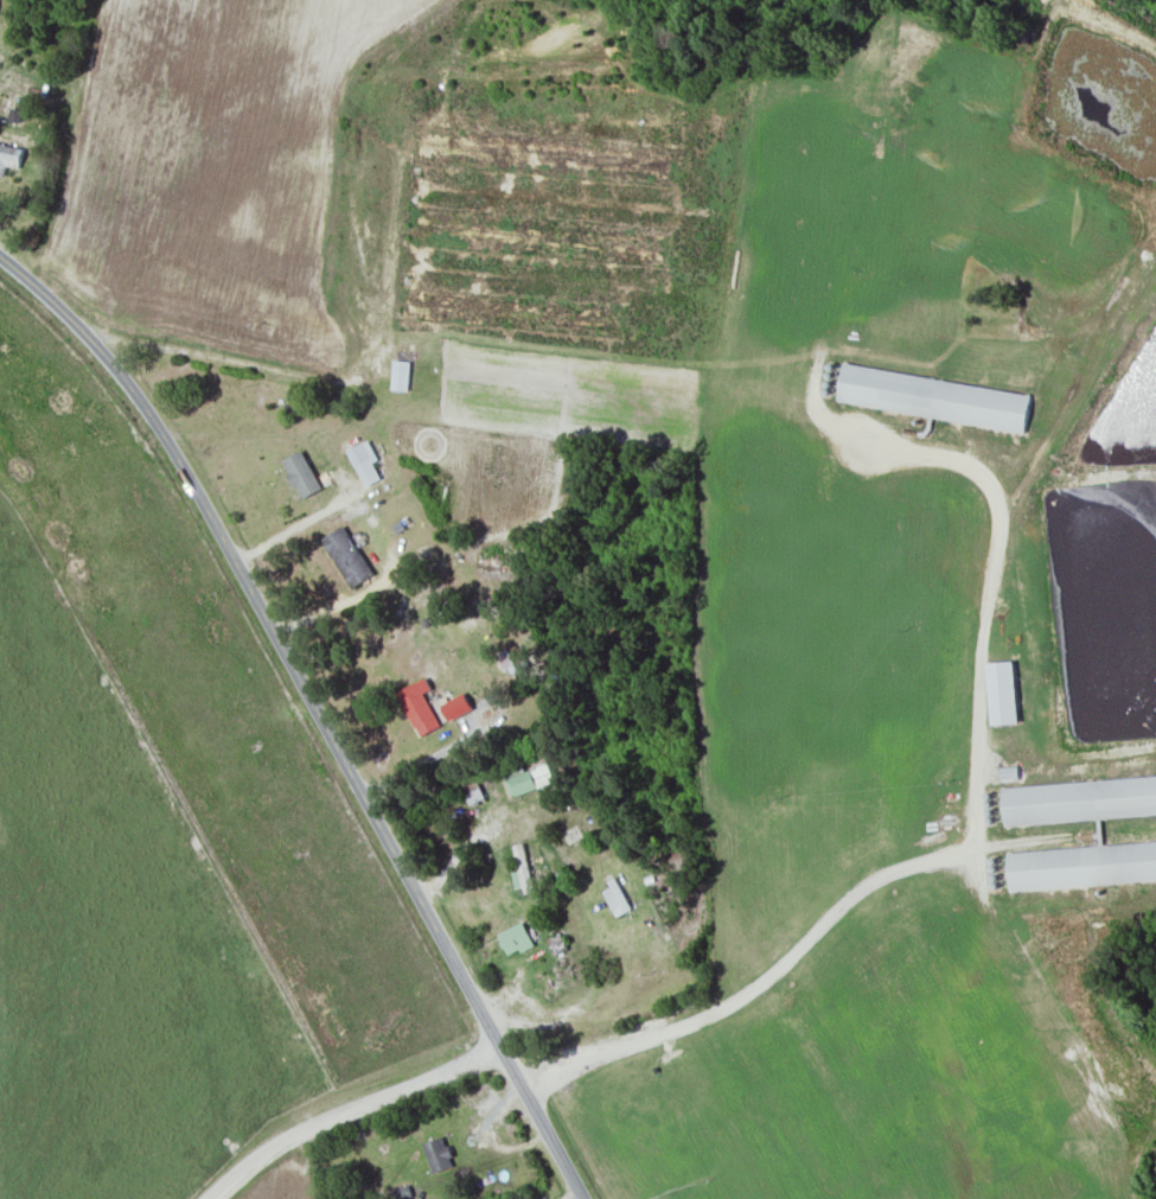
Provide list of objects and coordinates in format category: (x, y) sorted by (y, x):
building: (548, 155)
building: (9, 158)
building: (538, 237)
building: (511, 312)
building: (401, 376)
building: (934, 397)
building: (365, 464)
building: (302, 476)
building: (347, 557)
building: (511, 662)
building: (1003, 694)
road: (313, 710)
building: (419, 710)
building: (1009, 774)
building: (529, 779)
building: (473, 795)
building: (1079, 802)
road: (964, 838)
building: (1081, 866)
building: (522, 869)
building: (615, 895)
building: (516, 940)
building: (558, 945)
road: (345, 1110)
building: (438, 1154)

